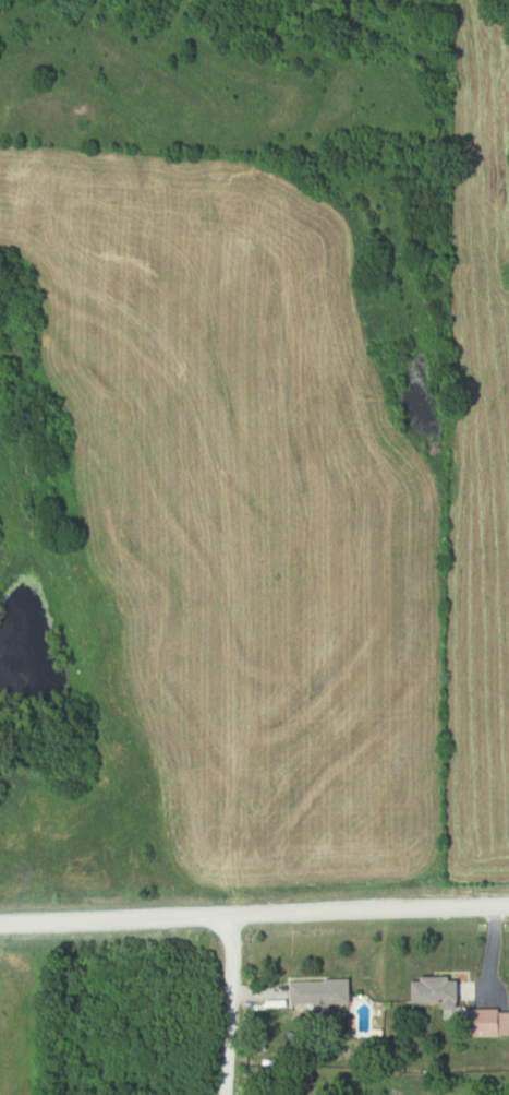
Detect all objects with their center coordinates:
road: (254, 914)
building: (326, 993)
building: (459, 1001)
road: (230, 1004)

